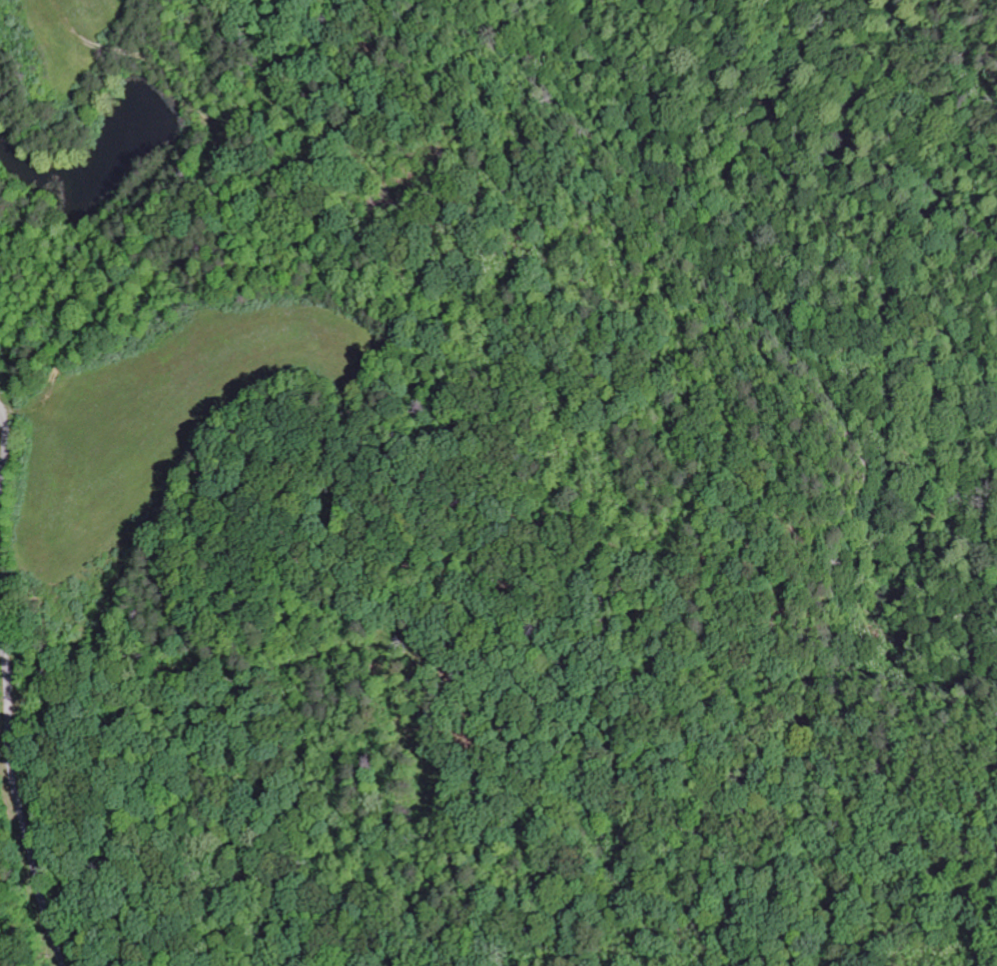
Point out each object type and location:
road: (3, 437)
road: (18, 804)

